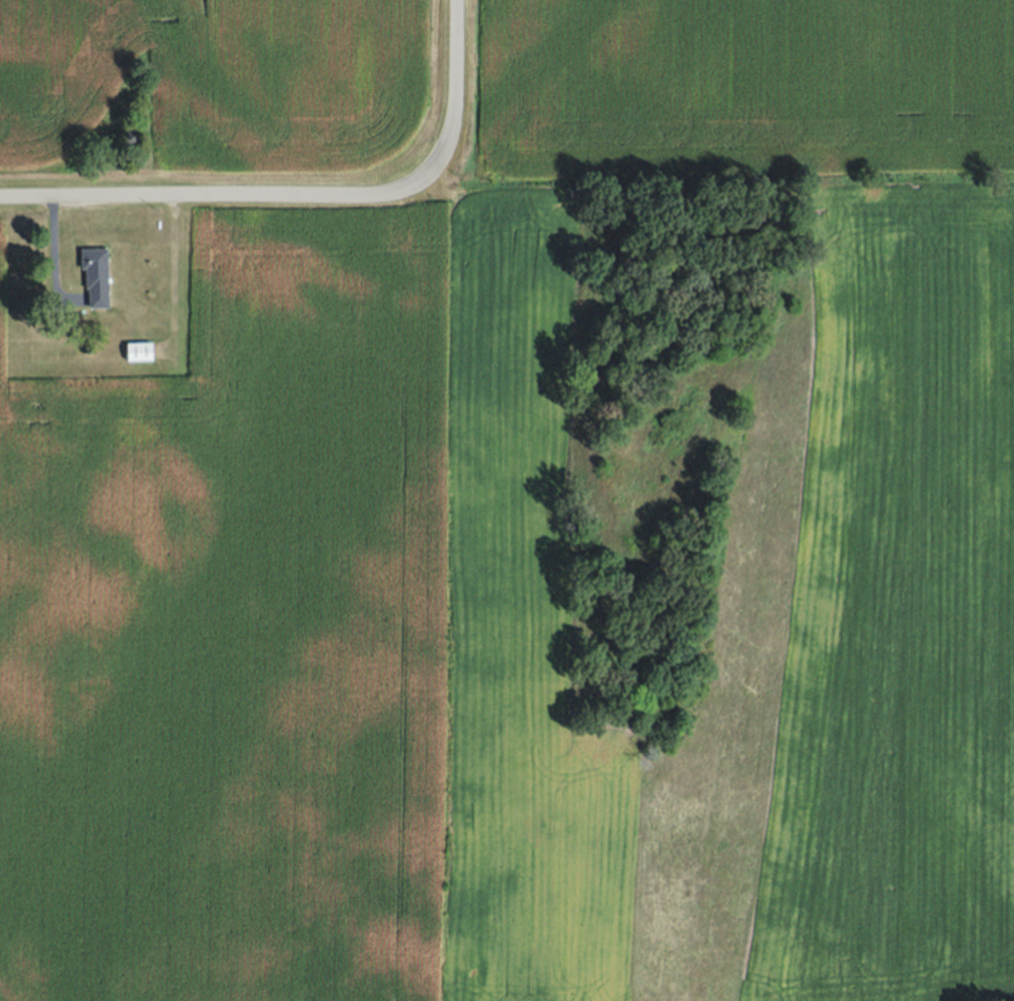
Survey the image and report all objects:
road: (457, 55)
road: (252, 195)
building: (96, 275)
building: (86, 348)
building: (139, 351)

